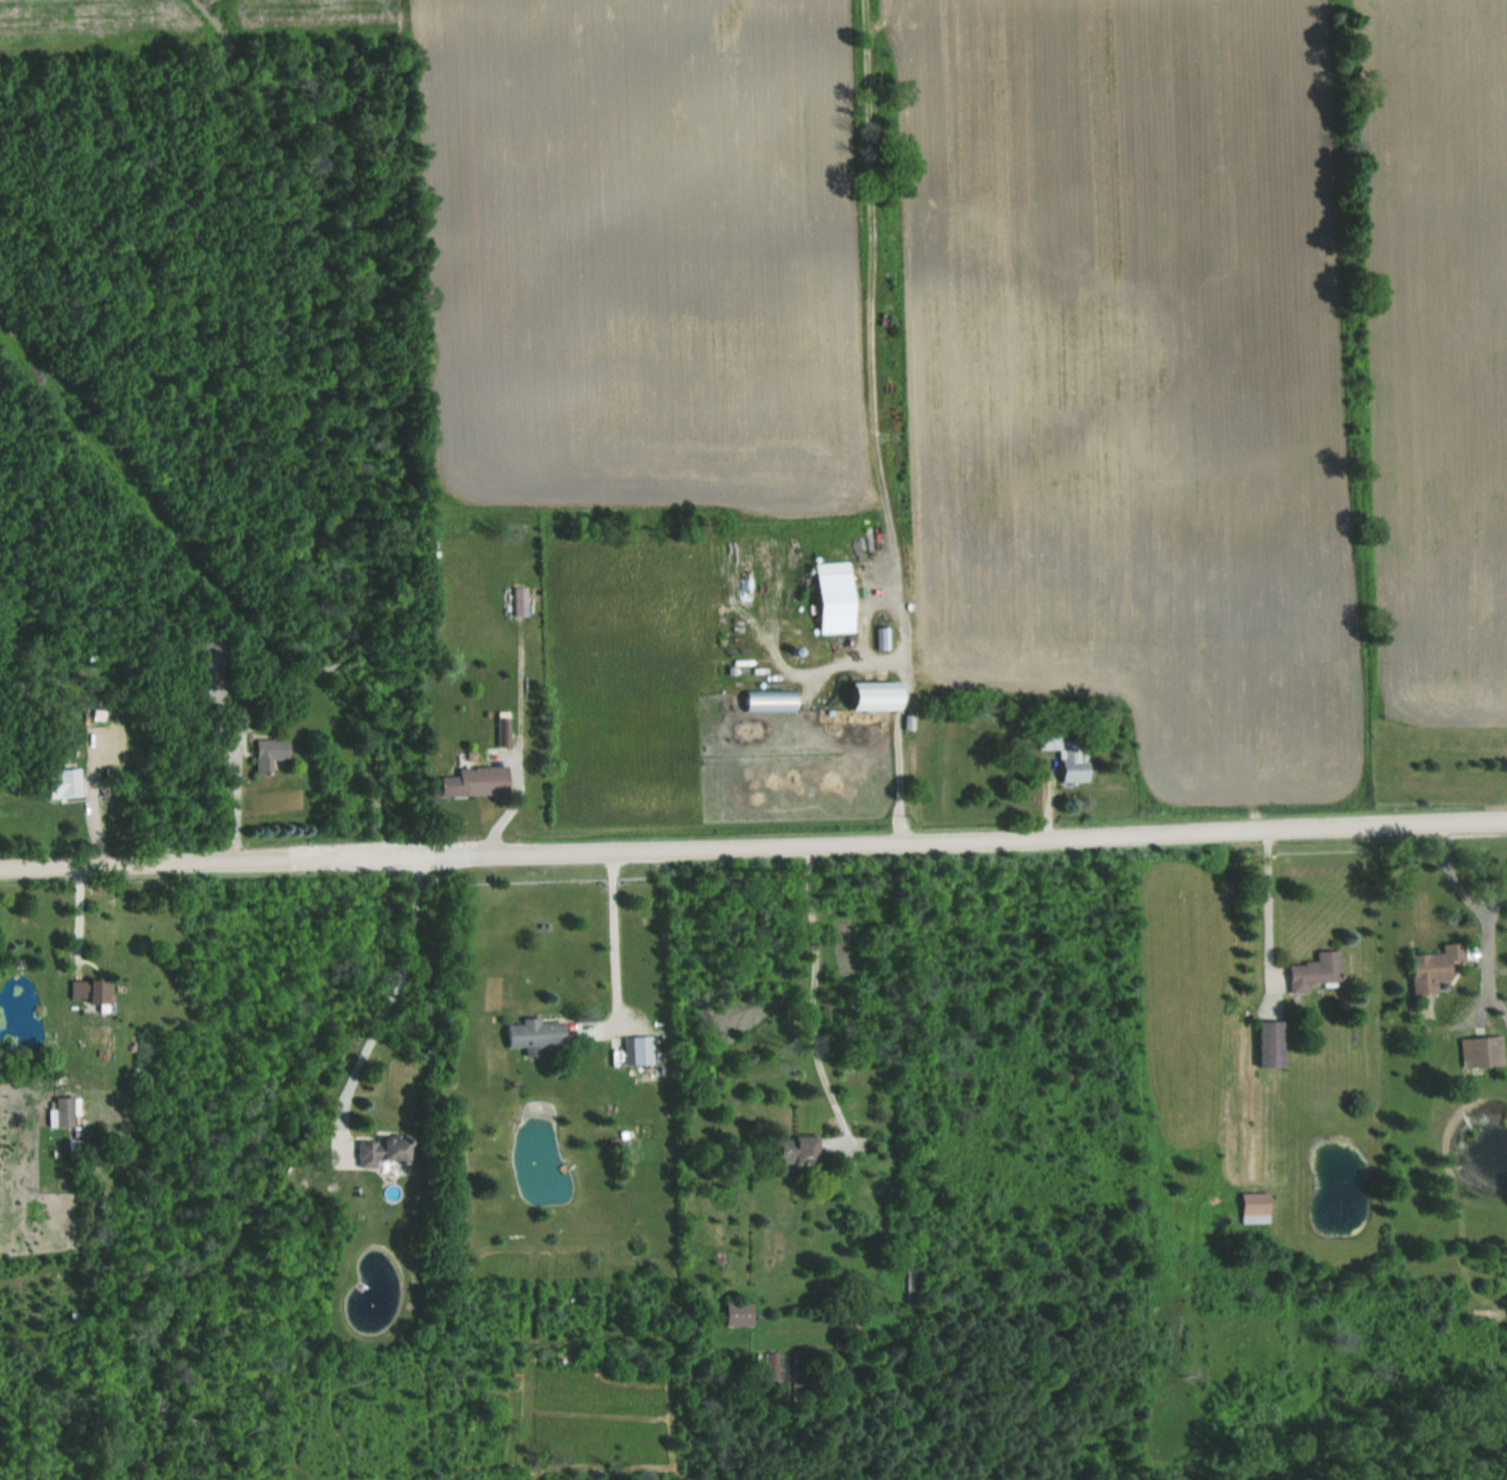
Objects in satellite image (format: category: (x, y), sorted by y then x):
building: (840, 597)
building: (522, 601)
building: (212, 660)
building: (883, 696)
building: (273, 753)
building: (1059, 755)
road: (895, 779)
building: (479, 781)
building: (66, 783)
road: (236, 801)
road: (753, 843)
road: (1491, 888)
road: (1267, 901)
road: (75, 915)
road: (1479, 916)
road: (611, 932)
building: (1426, 967)
building: (1309, 972)
road: (812, 985)
building: (93, 991)
road: (383, 1005)
road: (1505, 1016)
road: (1505, 1020)
building: (525, 1032)
building: (1262, 1043)
building: (635, 1050)
building: (1477, 1051)
building: (67, 1112)
building: (787, 1149)
building: (371, 1152)
building: (1247, 1208)
building: (730, 1314)

